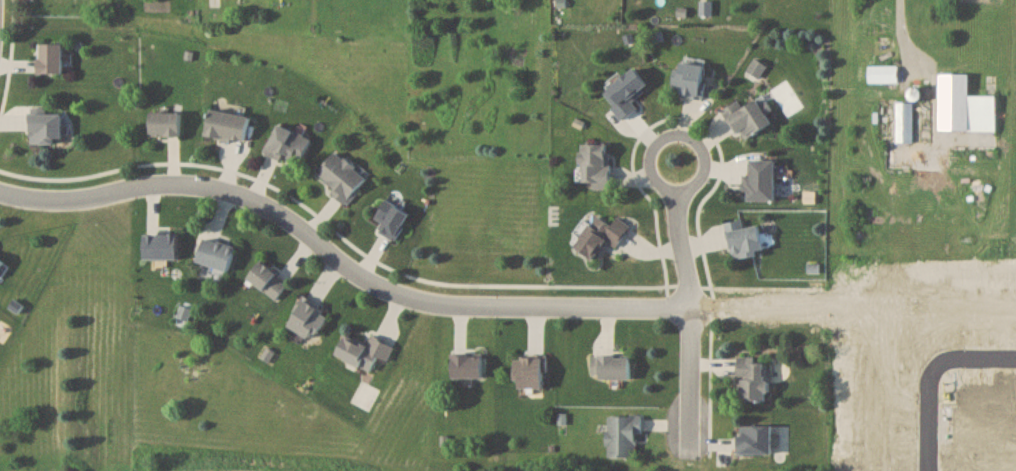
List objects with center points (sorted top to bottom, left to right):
road: (898, 25)
building: (50, 58)
building: (883, 73)
building: (689, 79)
building: (624, 93)
building: (964, 106)
building: (747, 119)
building: (905, 122)
building: (164, 124)
building: (227, 127)
building: (45, 129)
building: (288, 147)
building: (596, 165)
building: (341, 177)
building: (760, 182)
building: (390, 220)
building: (601, 236)
building: (744, 240)
building: (215, 255)
building: (1, 264)
building: (268, 281)
road: (391, 289)
road: (689, 306)
building: (183, 316)
building: (308, 320)
building: (364, 352)
building: (467, 366)
building: (611, 368)
building: (529, 373)
road: (928, 374)
building: (752, 380)
building: (623, 436)
building: (753, 439)

